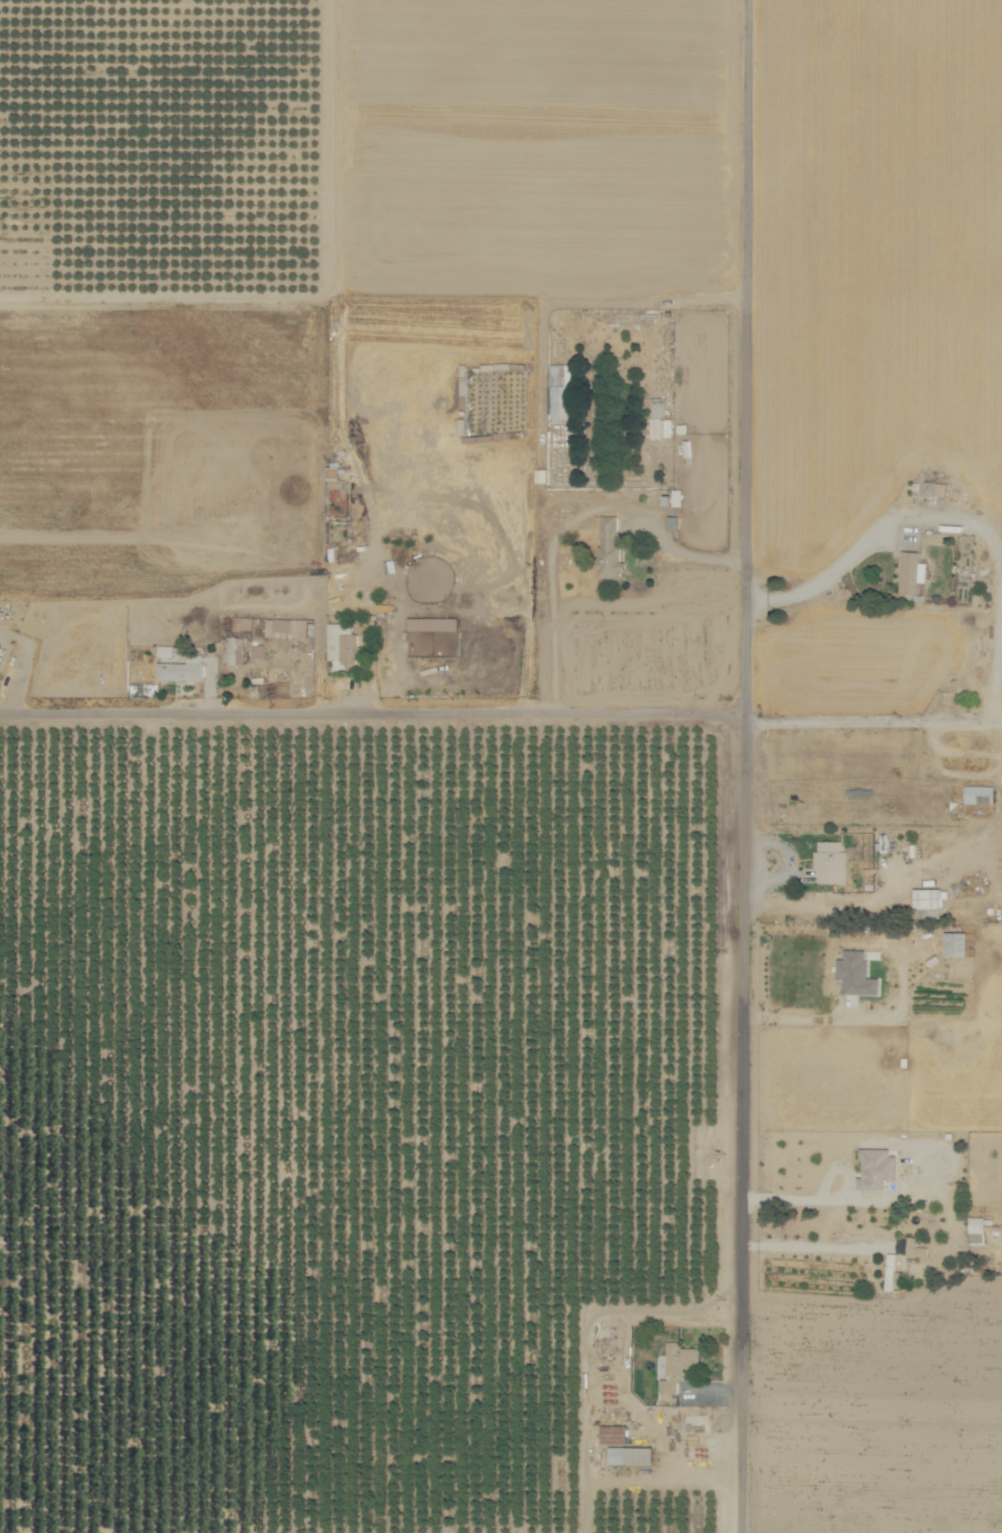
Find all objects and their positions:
building: (562, 394)
building: (658, 417)
building: (933, 487)
road: (570, 521)
road: (874, 538)
building: (607, 545)
building: (285, 623)
building: (301, 623)
building: (430, 626)
building: (344, 642)
building: (234, 648)
building: (168, 649)
building: (259, 650)
building: (2, 651)
building: (183, 669)
road: (996, 683)
road: (373, 717)
road: (874, 721)
road: (746, 766)
building: (834, 860)
road: (875, 893)
building: (931, 898)
building: (960, 943)
building: (860, 972)
crop: (343, 1124)
road: (799, 1196)
building: (928, 1223)
road: (815, 1246)
building: (917, 1249)
road: (590, 1322)
building: (677, 1365)
building: (615, 1434)
building: (633, 1456)
road: (669, 1483)
road: (587, 1508)

